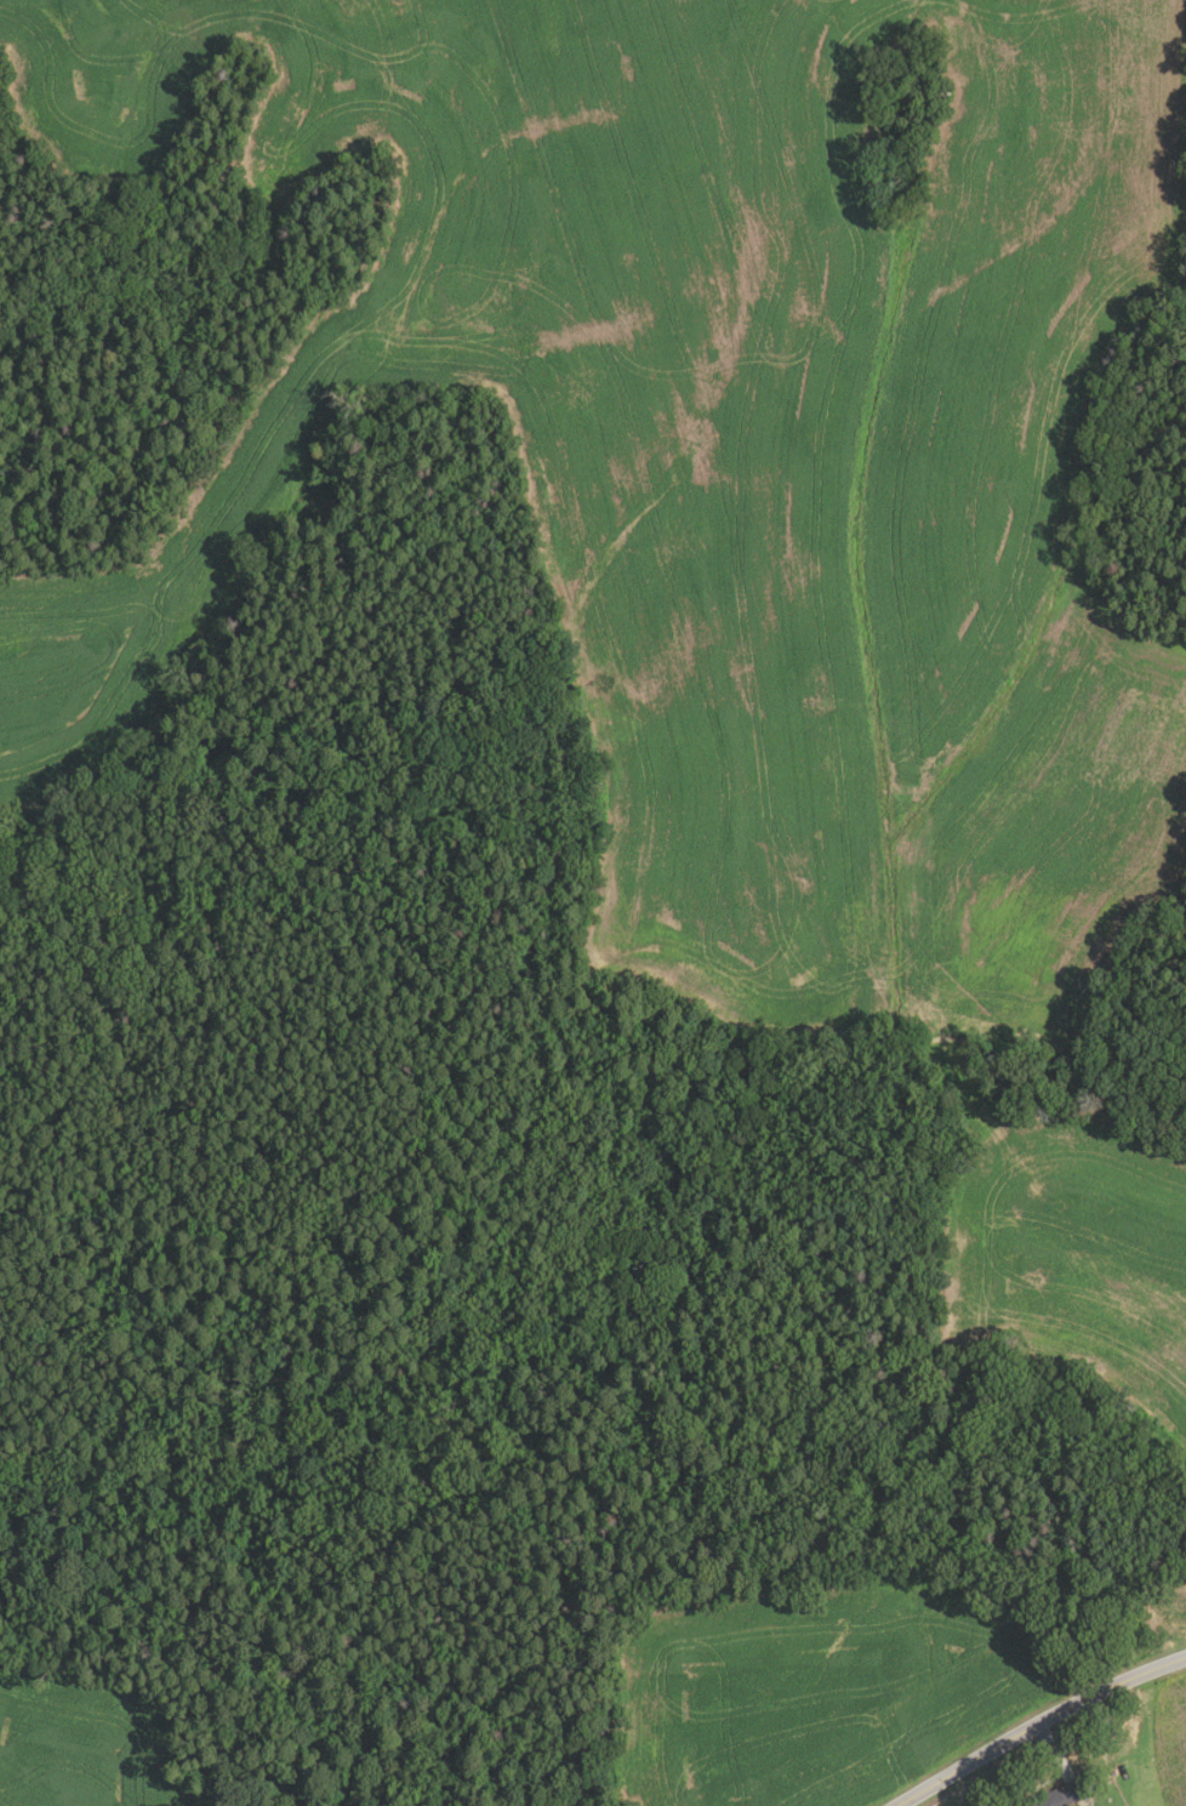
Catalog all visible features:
road: (1038, 1722)
building: (1059, 1796)

